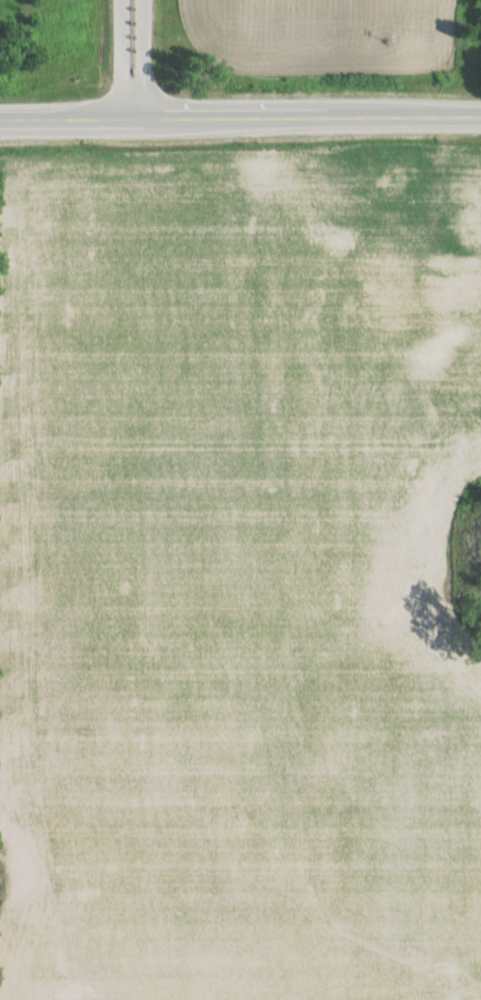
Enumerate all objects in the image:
road: (134, 59)
road: (240, 117)

